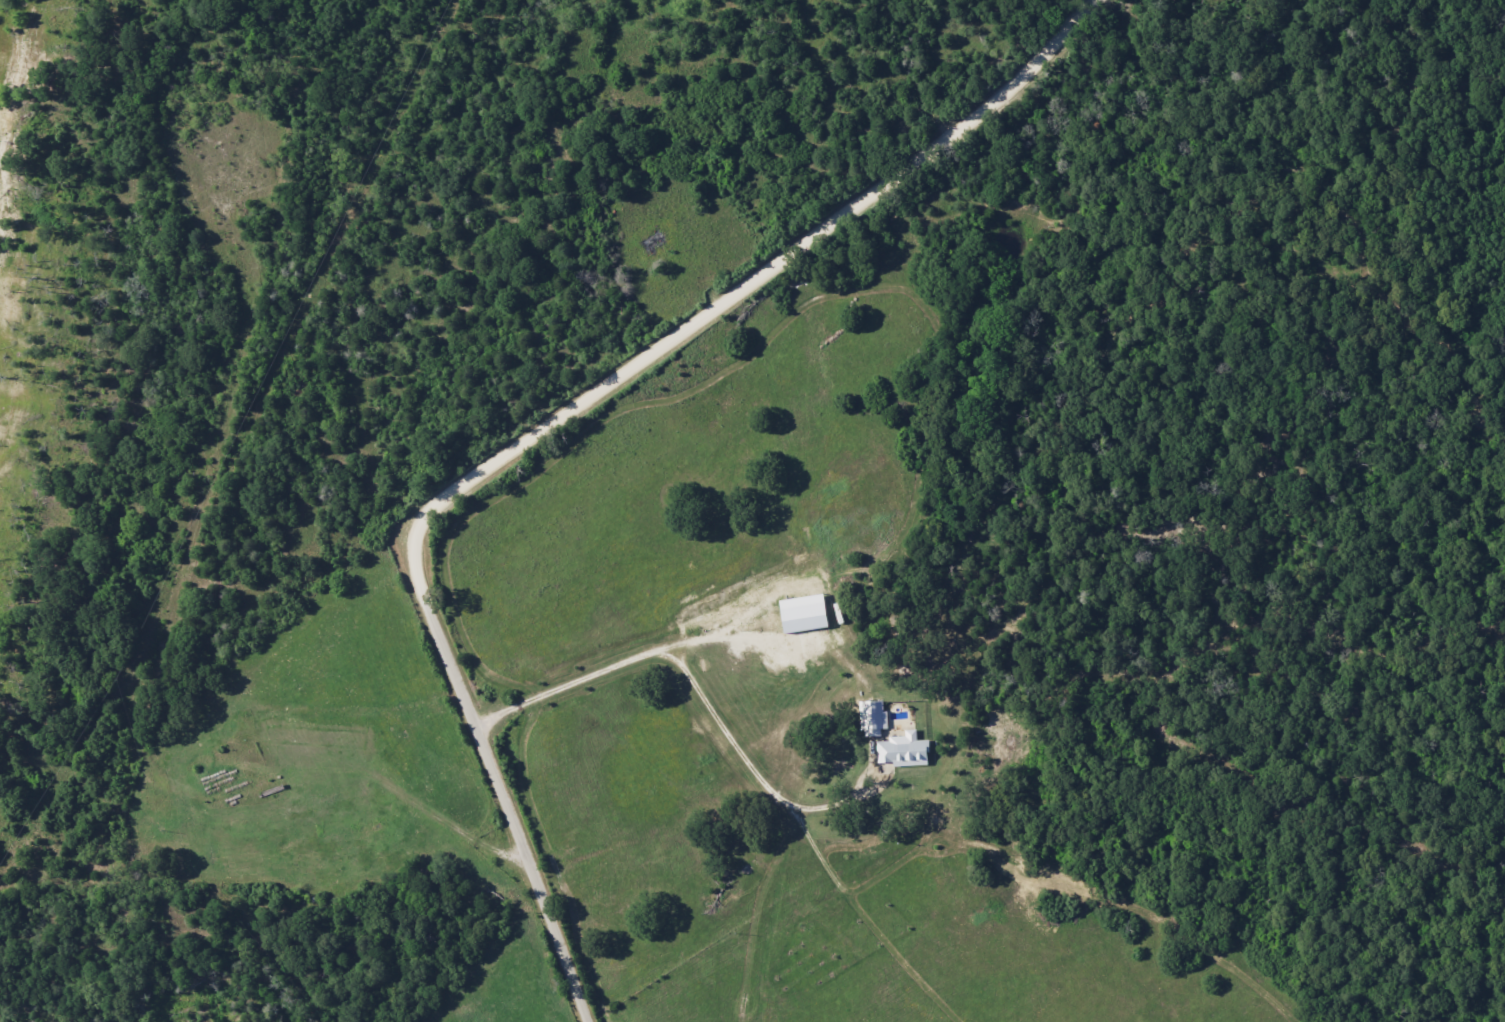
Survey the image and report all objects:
road: (558, 428)
road: (699, 691)
building: (873, 719)
building: (902, 752)

